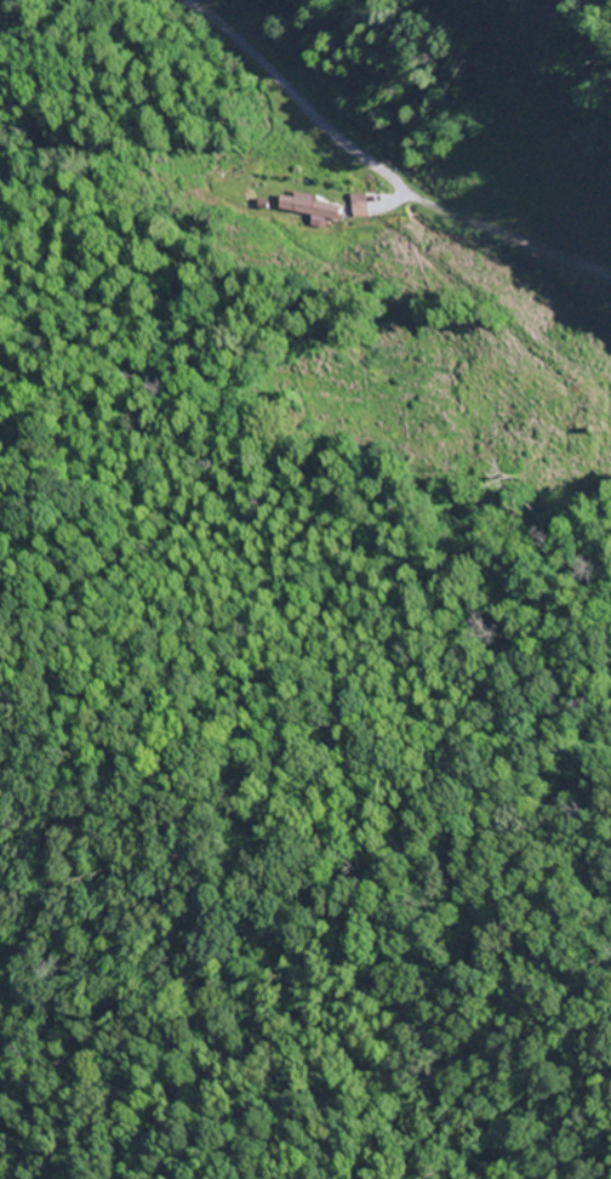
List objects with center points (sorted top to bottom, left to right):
road: (308, 102)
building: (367, 207)
building: (315, 210)

